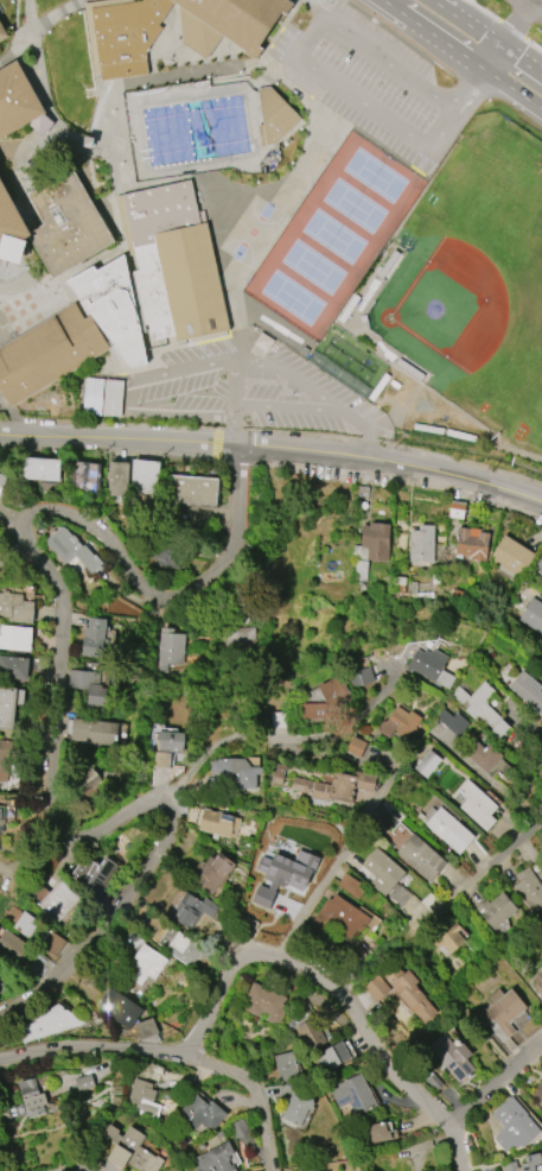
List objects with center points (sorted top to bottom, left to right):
road: (435, 1)
road: (390, 6)
road: (533, 6)
road: (318, 11)
road: (33, 13)
building: (228, 21)
road: (508, 24)
building: (2, 31)
building: (125, 33)
road: (490, 38)
road: (509, 38)
road: (311, 39)
road: (442, 43)
road: (410, 45)
road: (198, 72)
road: (45, 76)
parking lot: (371, 82)
road: (472, 91)
road: (514, 91)
building: (19, 101)
building: (274, 115)
road: (445, 131)
park: (375, 177)
road: (119, 188)
park: (353, 208)
road: (270, 219)
building: (52, 222)
park: (253, 233)
park: (333, 238)
building: (173, 260)
park: (313, 268)
road: (136, 280)
park: (293, 300)
building: (113, 305)
park: (444, 305)
building: (263, 342)
building: (46, 349)
road: (285, 373)
road: (122, 380)
parking lot: (235, 388)
building: (102, 397)
road: (320, 404)
road: (232, 422)
road: (116, 438)
road: (389, 463)
building: (39, 469)
building: (83, 475)
building: (144, 477)
building: (117, 479)
building: (1, 480)
building: (191, 489)
building: (372, 542)
building: (471, 543)
building: (421, 544)
building: (71, 549)
road: (36, 553)
building: (167, 553)
building: (511, 557)
building: (538, 563)
building: (541, 572)
building: (359, 576)
building: (15, 607)
building: (533, 615)
building: (242, 629)
building: (15, 638)
building: (94, 638)
building: (109, 639)
building: (172, 646)
building: (432, 666)
building: (14, 667)
building: (362, 677)
building: (91, 681)
building: (336, 690)
building: (528, 690)
building: (7, 707)
building: (482, 708)
building: (453, 722)
building: (400, 724)
building: (94, 730)
road: (313, 738)
building: (171, 741)
building: (357, 747)
building: (486, 757)
building: (5, 760)
building: (161, 760)
building: (428, 764)
road: (183, 771)
building: (237, 773)
building: (87, 785)
building: (333, 787)
building: (478, 805)
building: (1, 818)
building: (219, 823)
building: (447, 828)
building: (422, 856)
road: (342, 862)
building: (213, 872)
building: (95, 874)
building: (387, 876)
road: (476, 880)
building: (351, 884)
building: (530, 890)
building: (58, 901)
building: (497, 910)
building: (191, 911)
building: (339, 917)
road: (113, 923)
building: (39, 933)
building: (448, 939)
building: (13, 947)
building: (184, 950)
building: (147, 963)
building: (538, 983)
building: (376, 987)
building: (410, 992)
building: (264, 1002)
building: (121, 1009)
building: (503, 1014)
building: (50, 1024)
building: (146, 1028)
building: (312, 1034)
road: (168, 1053)
building: (332, 1057)
road: (382, 1057)
building: (453, 1057)
building: (287, 1066)
building: (84, 1083)
road: (496, 1085)
building: (538, 1093)
road: (259, 1094)
building: (355, 1095)
building: (31, 1097)
building: (142, 1097)
building: (296, 1107)
building: (203, 1113)
building: (512, 1125)
building: (381, 1132)
building: (129, 1151)
building: (216, 1159)
building: (525, 1164)
road: (77, 1169)

